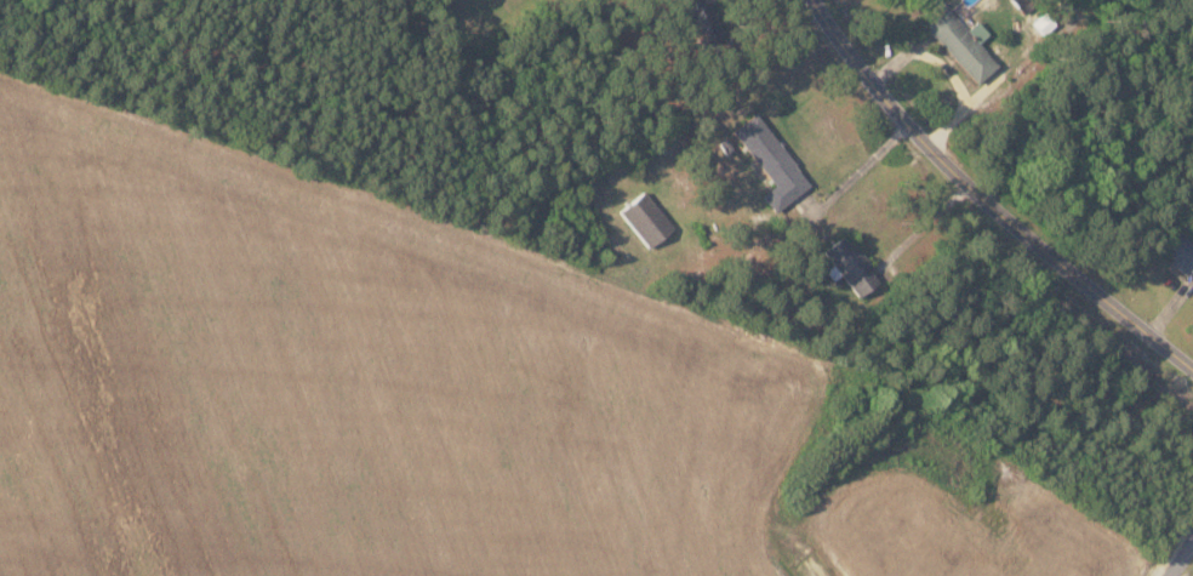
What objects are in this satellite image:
building: (1026, 5)
building: (704, 18)
building: (964, 42)
building: (772, 160)
road: (857, 171)
road: (987, 199)
building: (647, 218)
road: (921, 227)
building: (1180, 250)
building: (854, 264)
road: (1181, 558)
road: (806, 565)

